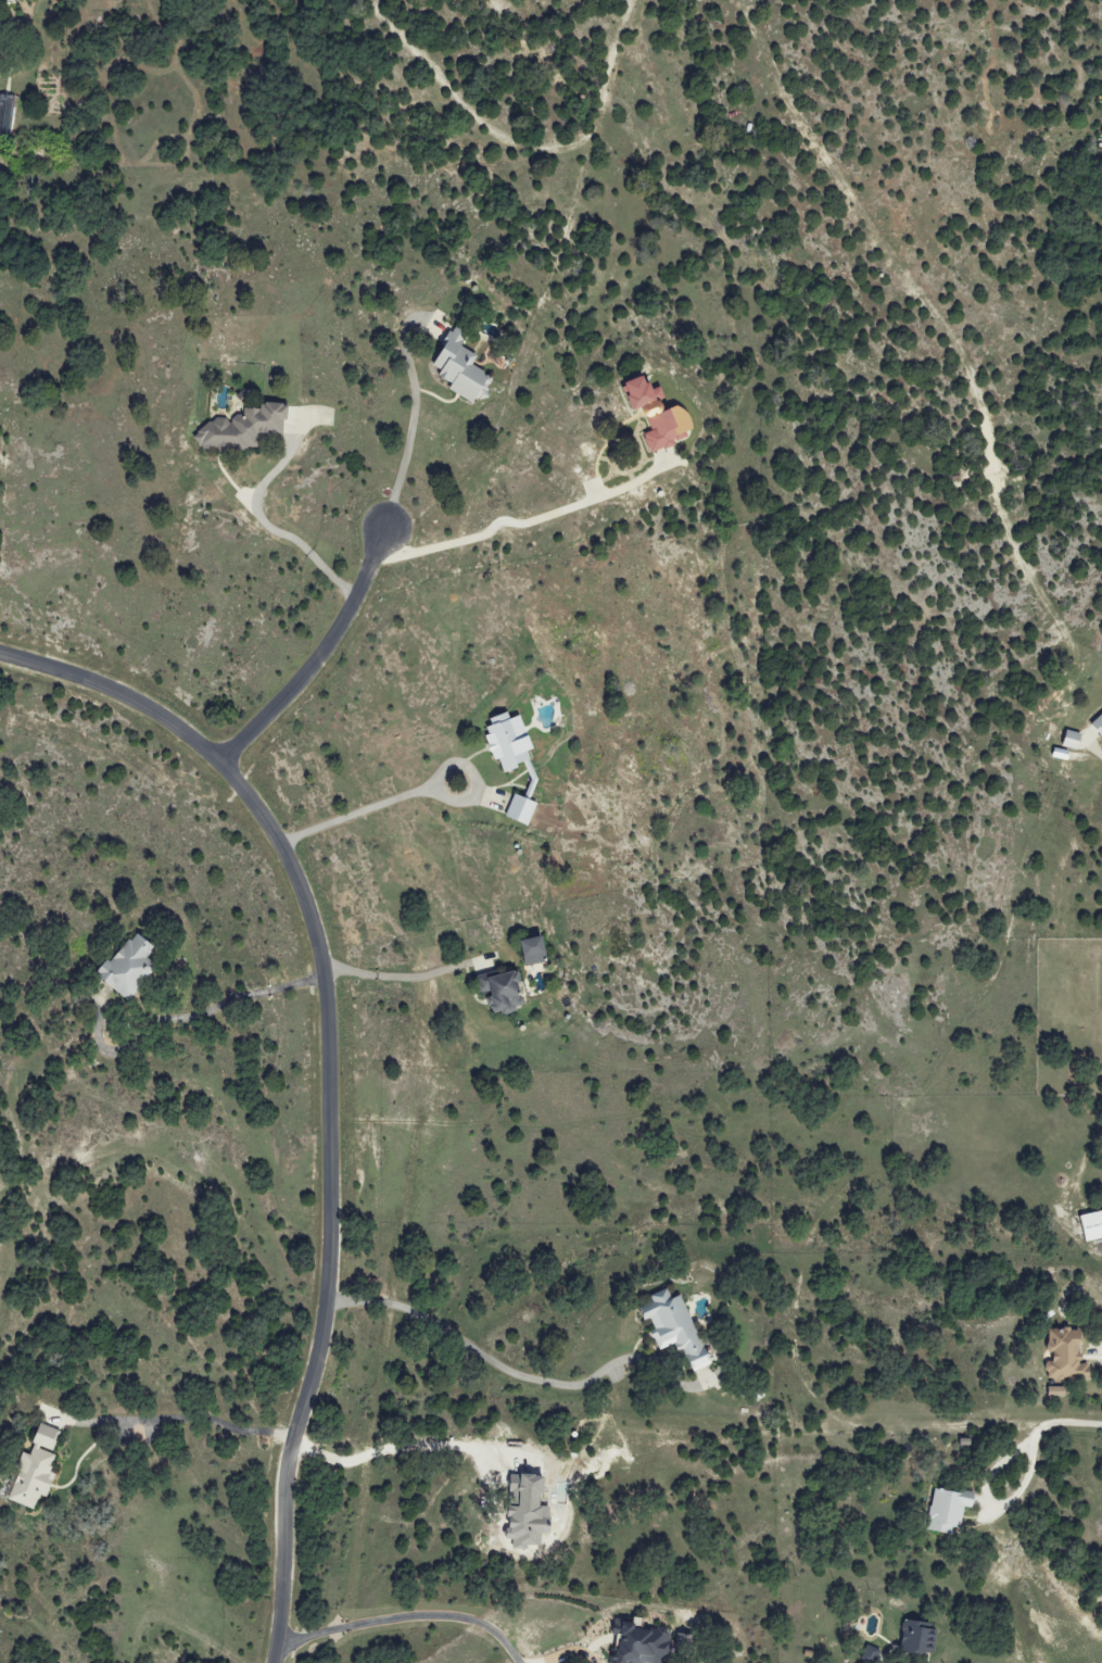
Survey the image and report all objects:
building: (12, 0)
building: (461, 367)
building: (660, 416)
building: (245, 428)
road: (401, 457)
road: (528, 518)
road: (301, 546)
road: (319, 655)
building: (1099, 723)
building: (1073, 740)
building: (511, 741)
road: (449, 761)
building: (522, 808)
road: (354, 811)
building: (536, 950)
building: (134, 965)
road: (349, 969)
road: (427, 973)
road: (295, 981)
building: (504, 990)
road: (170, 1020)
road: (327, 1076)
building: (1093, 1225)
building: (676, 1326)
road: (472, 1350)
building: (1066, 1355)
building: (1057, 1391)
road: (1059, 1416)
road: (191, 1420)
building: (36, 1473)
building: (528, 1510)
building: (948, 1510)
road: (404, 1620)
building: (919, 1639)
building: (643, 1643)
building: (870, 1654)

